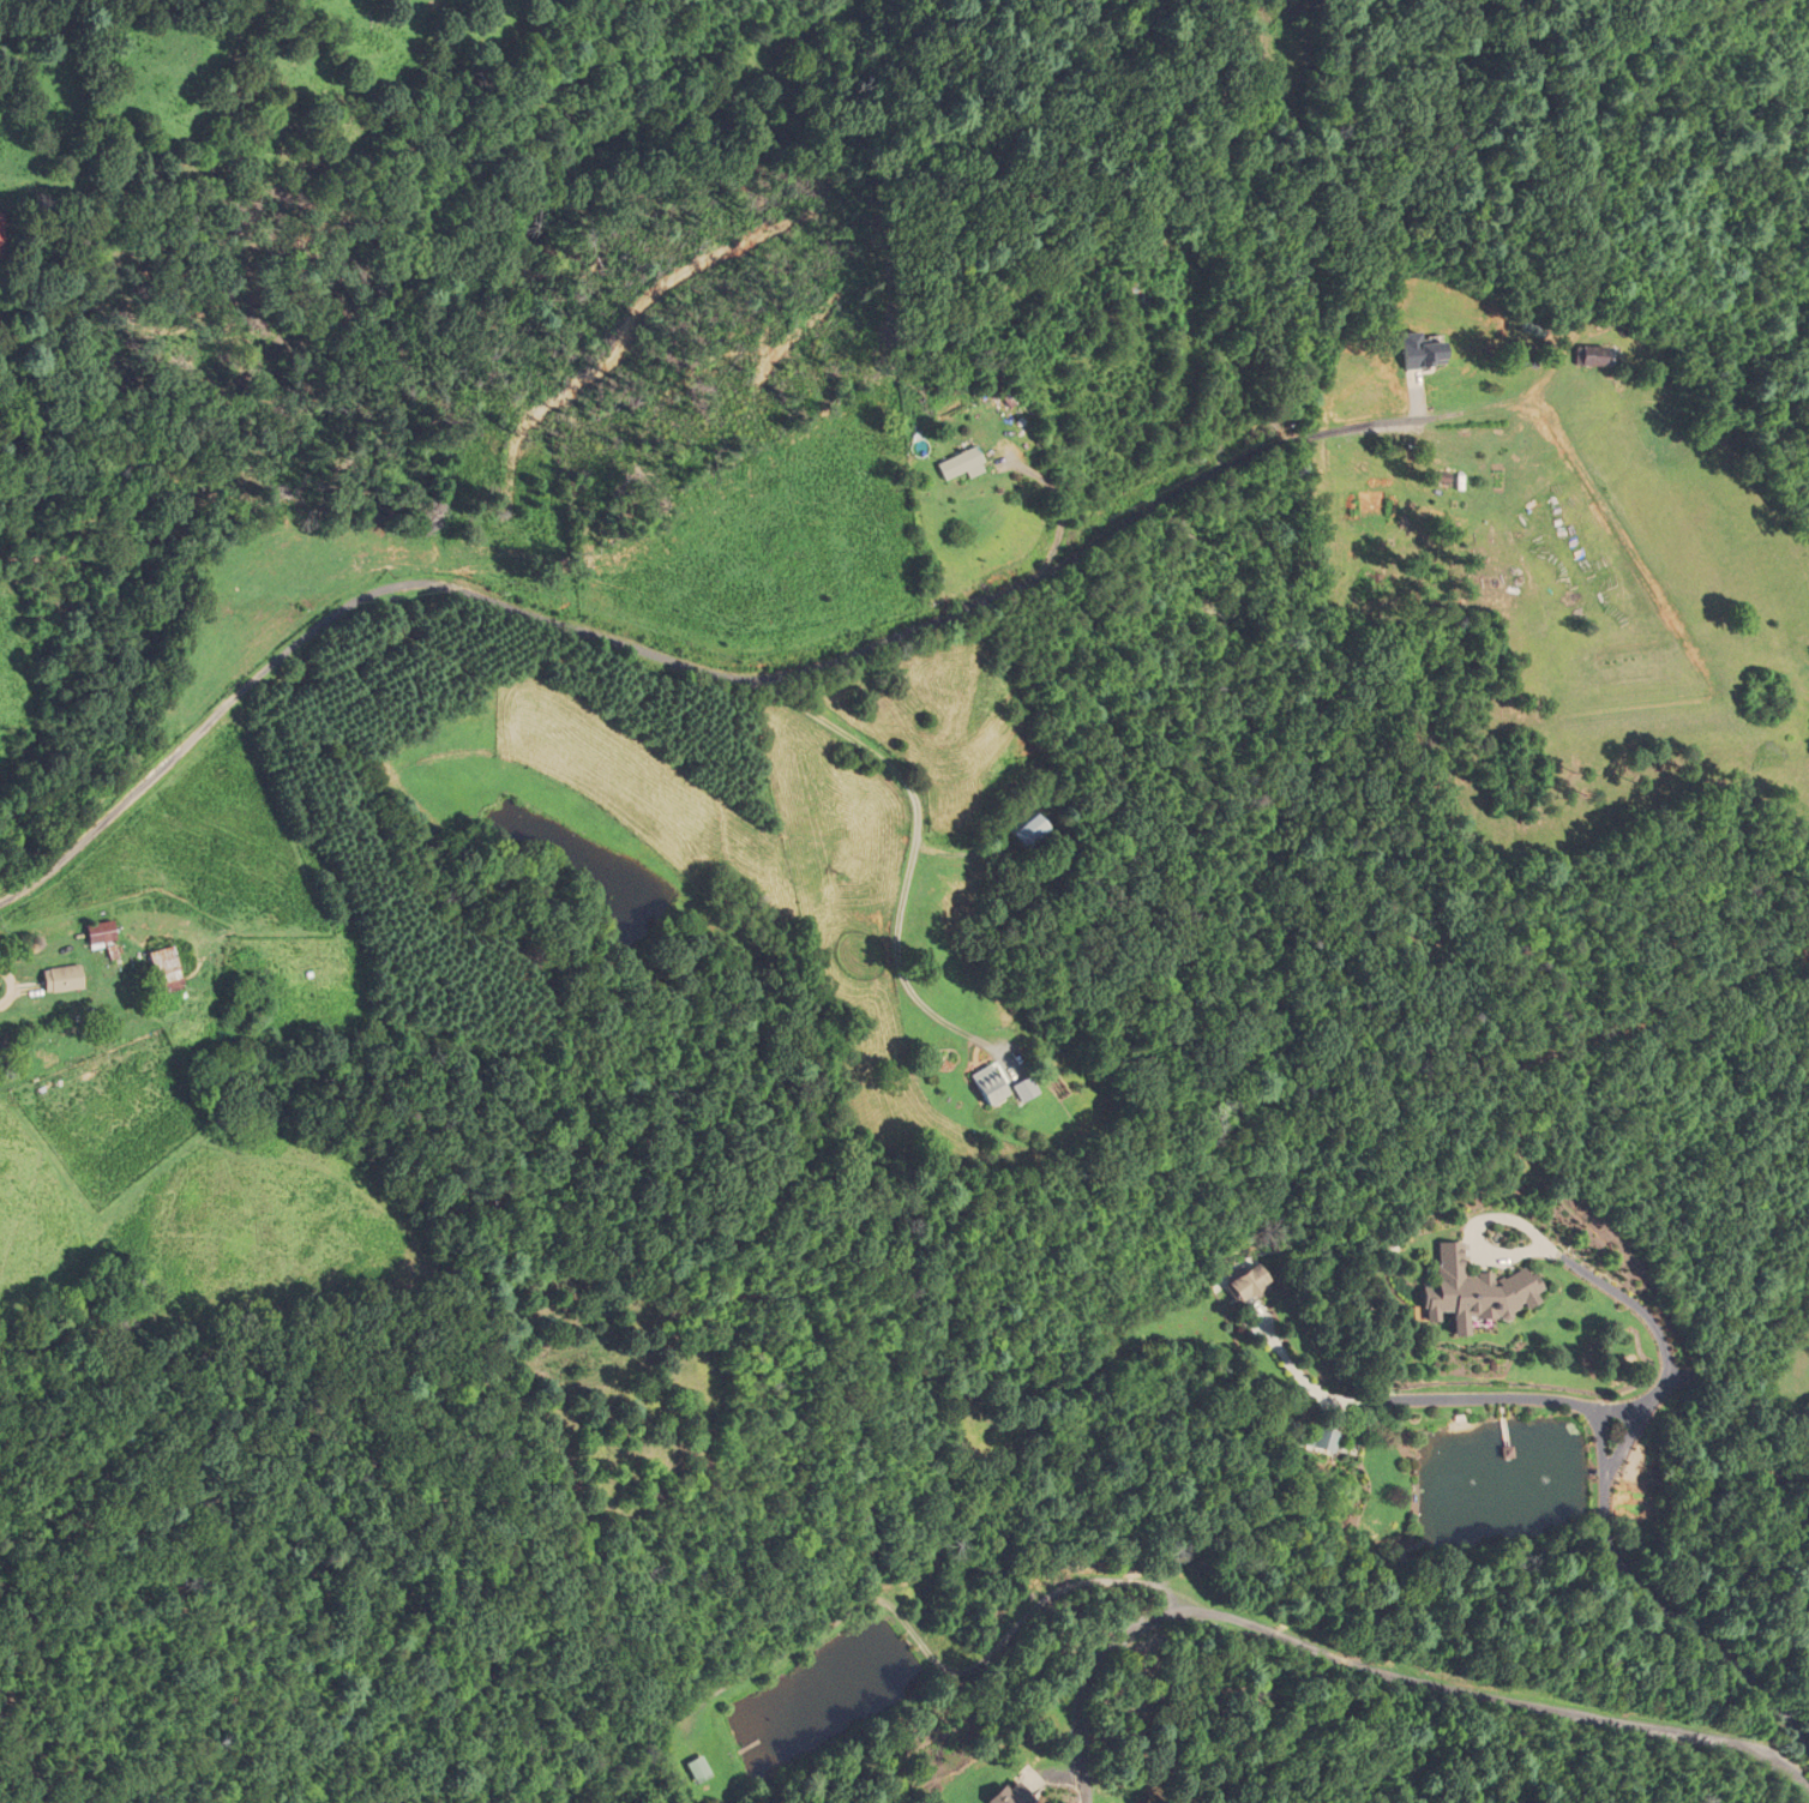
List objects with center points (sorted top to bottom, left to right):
building: (0, 229)
building: (1132, 300)
building: (1592, 357)
road: (1352, 431)
building: (954, 465)
road: (607, 638)
building: (1023, 830)
road: (922, 842)
building: (101, 933)
building: (164, 970)
building: (62, 979)
building: (986, 1084)
building: (1023, 1089)
building: (1255, 1282)
building: (1476, 1292)
road: (1660, 1329)
road: (1606, 1432)
building: (1328, 1440)
road: (1380, 1667)
building: (703, 1769)
building: (1012, 1795)

